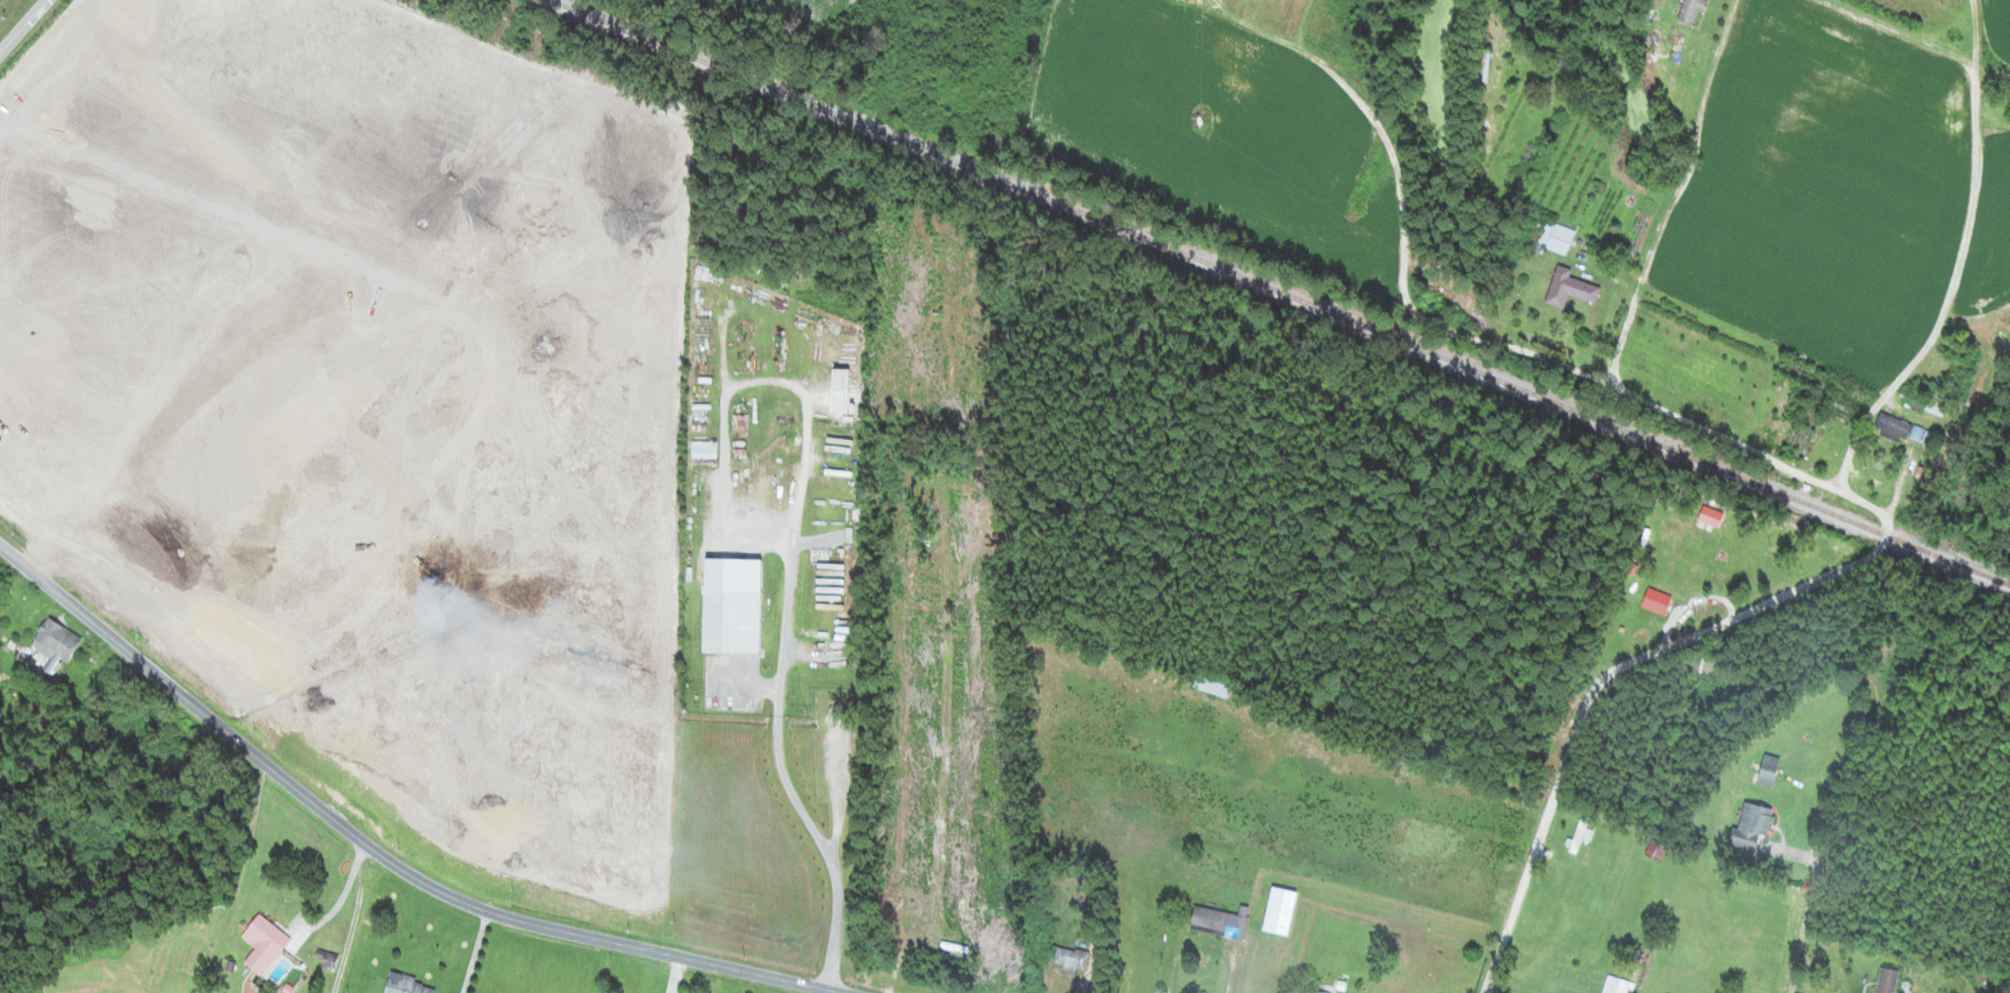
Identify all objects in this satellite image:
building: (1691, 11)
road: (23, 26)
road: (1905, 37)
building: (1481, 65)
road: (1676, 193)
building: (1557, 238)
road: (1489, 259)
road: (1991, 288)
building: (1570, 289)
railway: (1280, 293)
building: (1956, 349)
building: (1807, 375)
building: (1937, 406)
building: (1905, 430)
building: (1804, 431)
building: (704, 451)
building: (1657, 602)
building: (732, 608)
road: (1744, 616)
building: (55, 646)
building: (1705, 664)
building: (1211, 687)
building: (1769, 771)
building: (1752, 825)
building: (1579, 834)
building: (1656, 850)
road: (381, 853)
building: (1221, 922)
building: (264, 944)
building: (1888, 980)
building: (407, 986)
building: (1618, 986)
building: (1320, 992)

